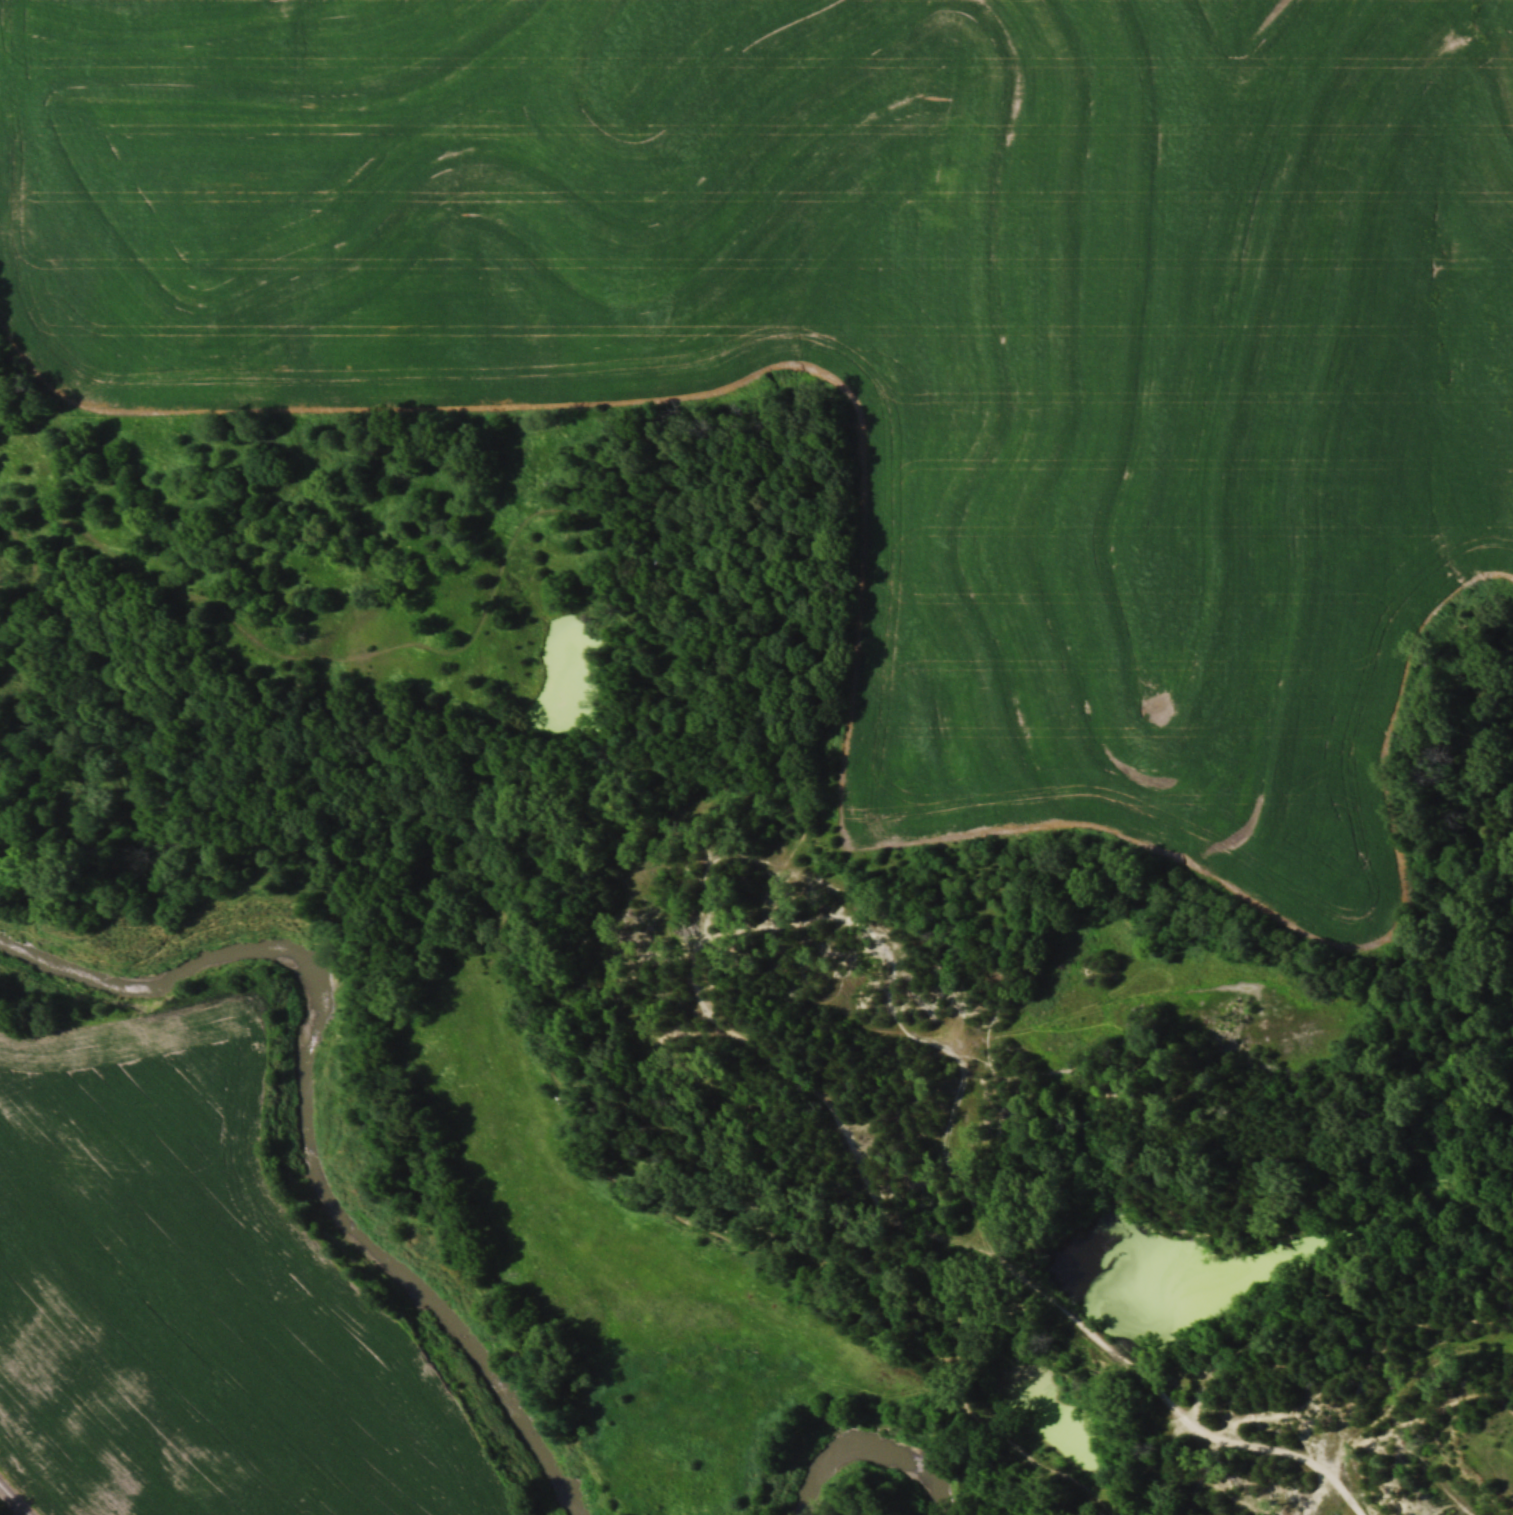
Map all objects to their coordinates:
road: (695, 953)
river: (303, 1112)
road: (986, 1237)
river: (869, 1435)
railway: (12, 1502)

